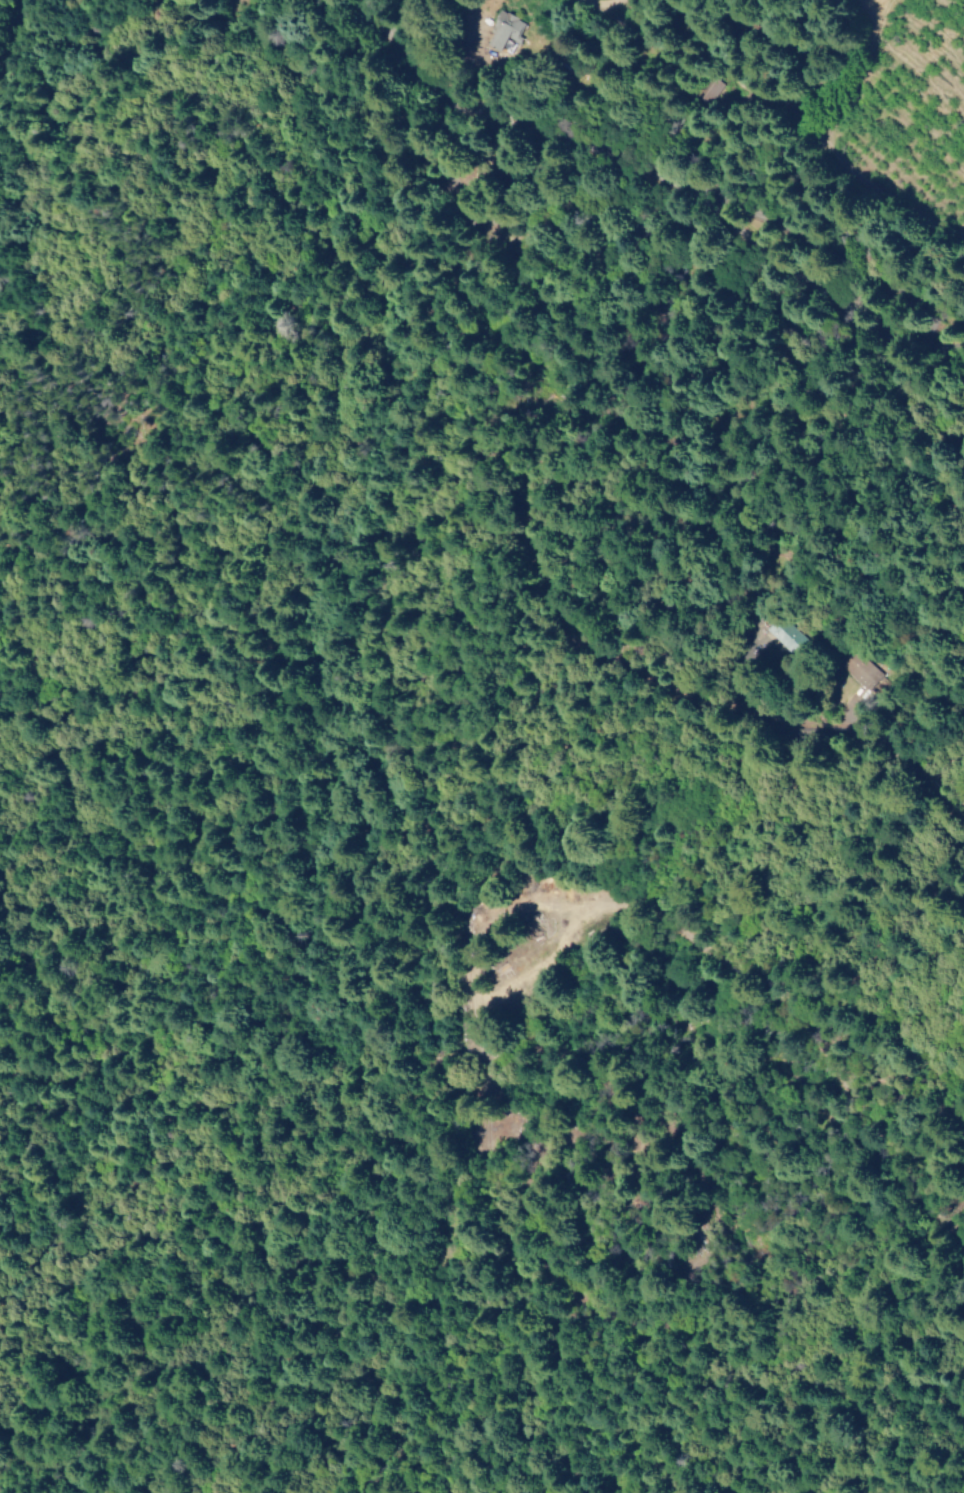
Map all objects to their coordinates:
road: (608, 12)
building: (507, 30)
road: (11, 39)
road: (587, 139)
road: (850, 302)
road: (935, 321)
road: (841, 324)
building: (782, 635)
road: (887, 775)
road: (897, 1410)

